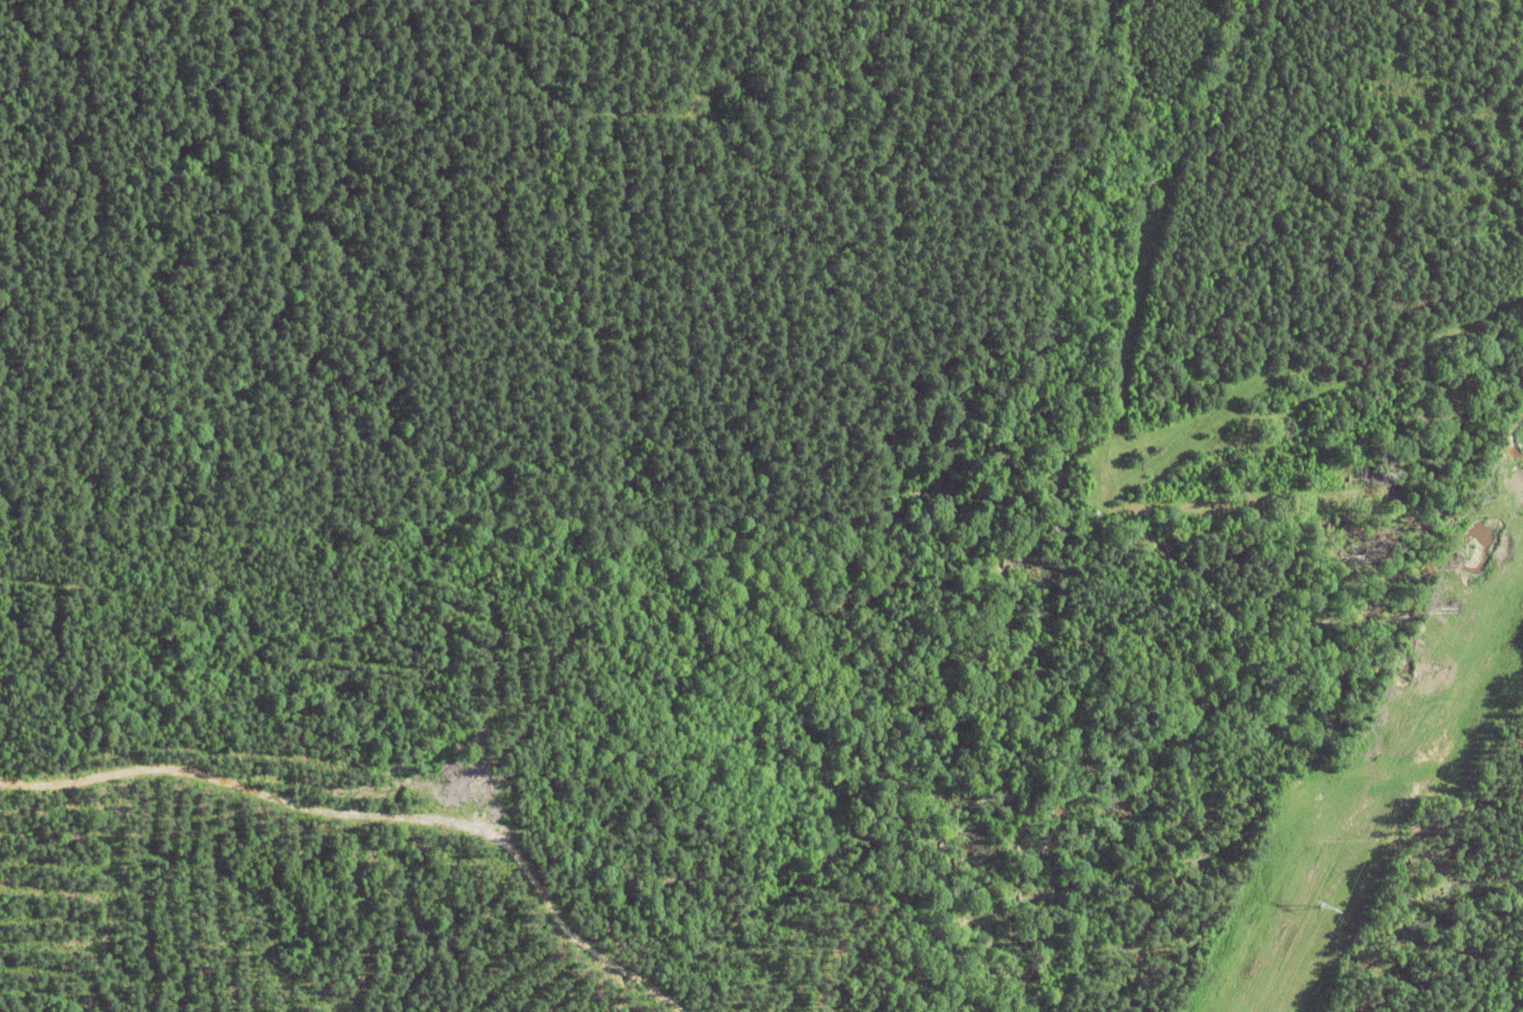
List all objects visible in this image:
power tower: (1321, 905)

